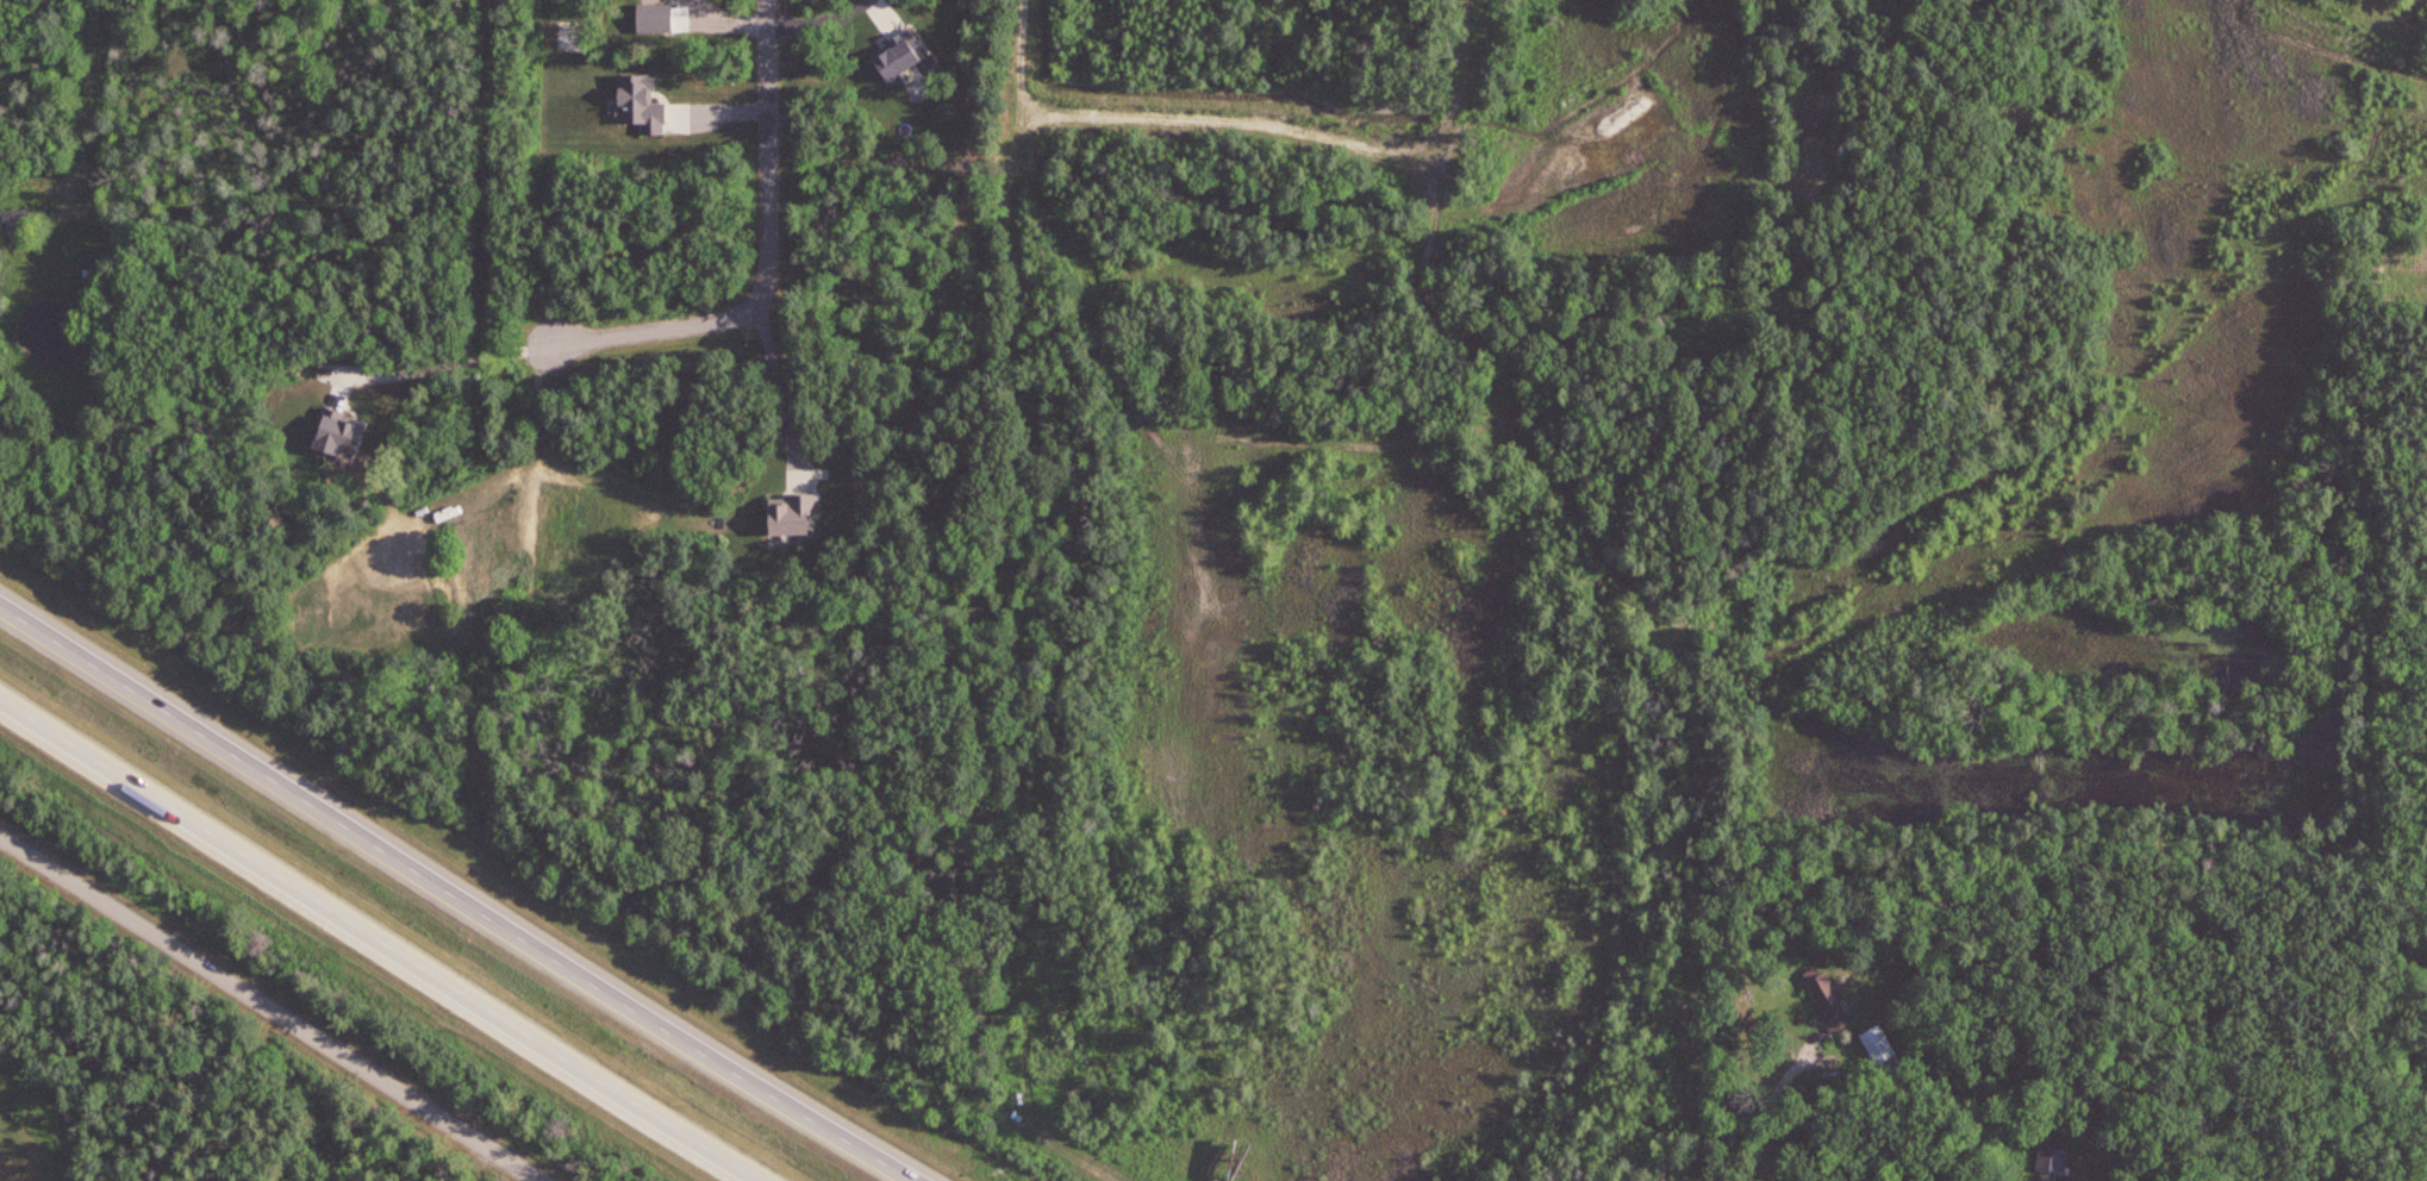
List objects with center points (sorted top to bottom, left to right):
road: (88, 113)
building: (27, 218)
road: (770, 258)
road: (458, 363)
road: (779, 387)
road: (1025, 560)
road: (457, 894)
road: (381, 942)
road: (801, 982)
building: (1828, 999)
road: (275, 1007)
building: (1879, 1045)
road: (1767, 1101)
building: (2053, 1161)

